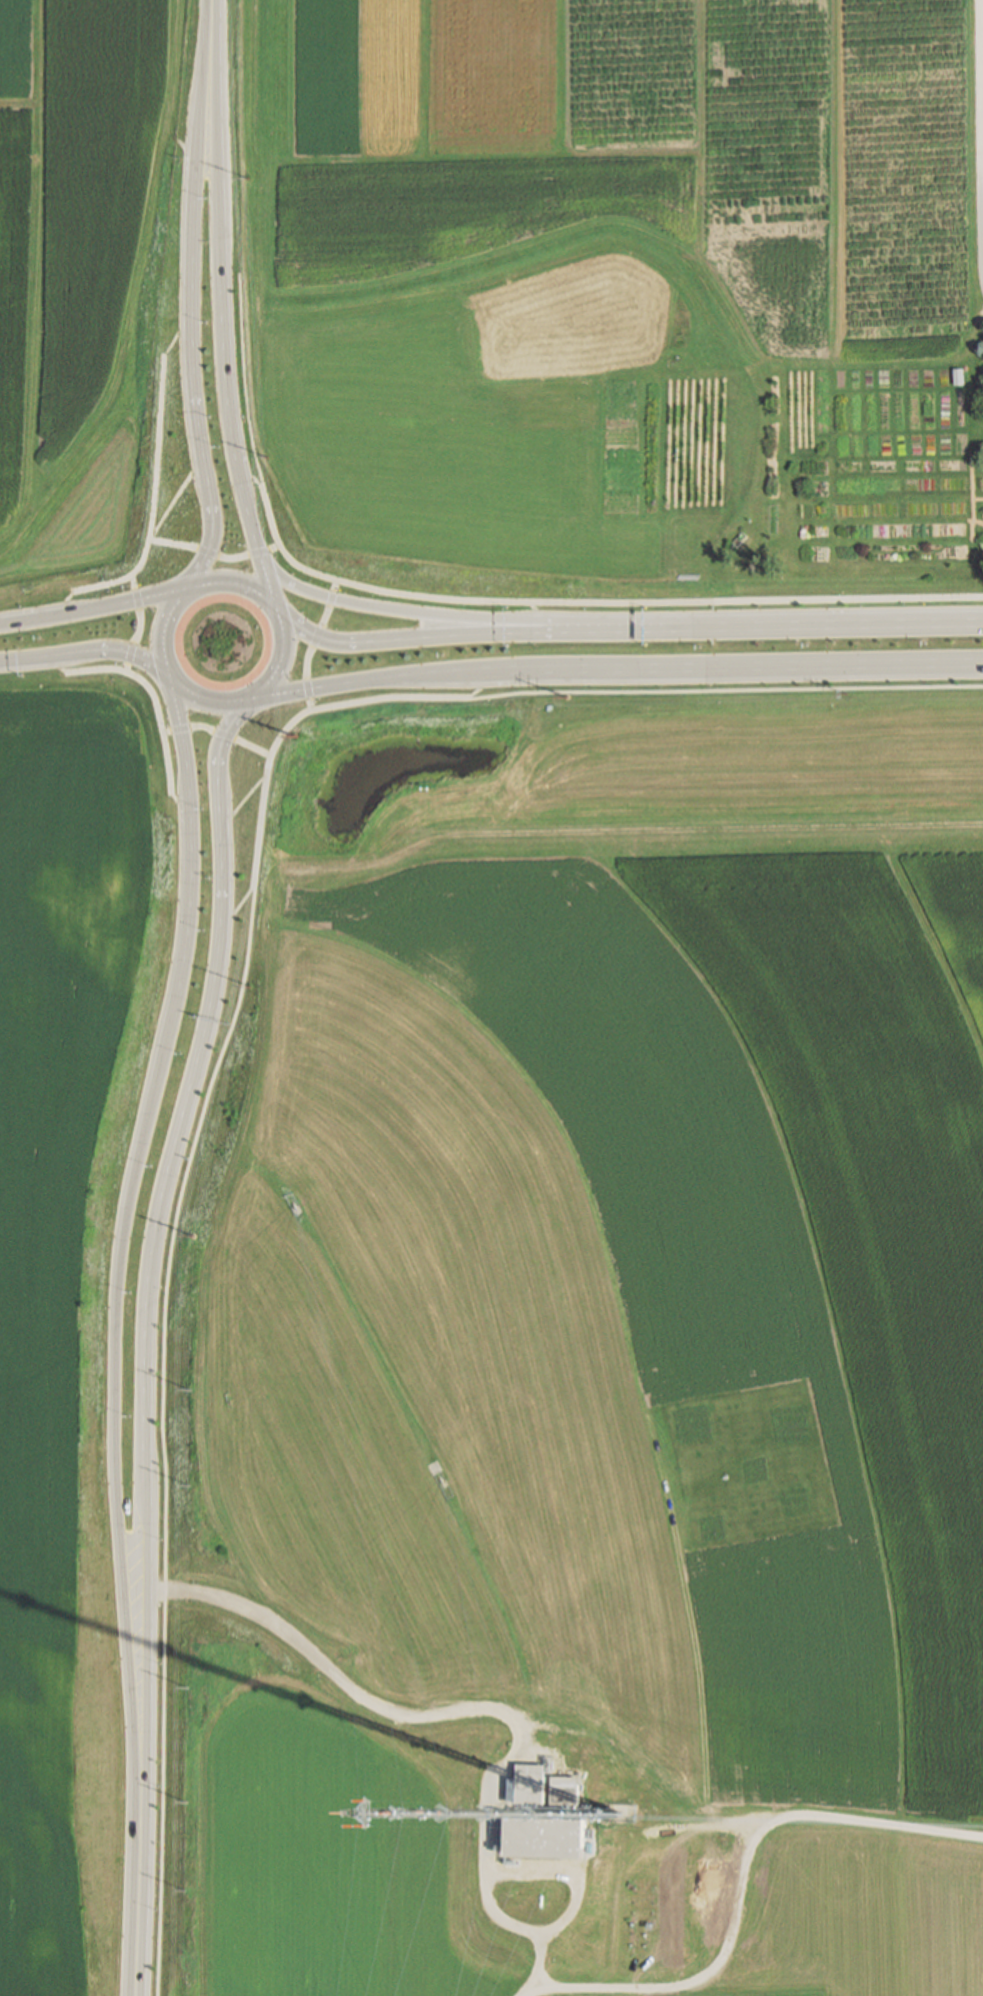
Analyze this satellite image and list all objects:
road: (204, 79)
road: (219, 121)
road: (981, 121)
power tower: (248, 177)
road: (191, 239)
crop: (84, 277)
crop: (621, 295)
road: (179, 338)
road: (224, 356)
road: (245, 382)
power tower: (267, 456)
road: (202, 459)
road: (251, 479)
road: (176, 501)
road: (154, 511)
road: (255, 540)
road: (215, 555)
road: (331, 593)
road: (846, 596)
road: (458, 600)
road: (94, 609)
road: (398, 610)
road: (533, 611)
road: (323, 615)
road: (574, 622)
road: (796, 623)
road: (142, 625)
road: (316, 636)
road: (439, 637)
street lamp: (503, 645)
road: (284, 652)
road: (83, 655)
road: (305, 661)
road: (695, 670)
road: (480, 684)
road: (329, 686)
road: (726, 690)
power tower: (844, 693)
road: (308, 694)
power tower: (566, 697)
road: (155, 698)
road: (296, 721)
road: (219, 732)
power tower: (298, 739)
road: (184, 747)
road: (218, 758)
road: (245, 802)
road: (718, 829)
road: (237, 907)
power tower: (247, 986)
power tower: (191, 1237)
crop: (68, 1275)
road: (114, 1297)
road: (144, 1305)
crop: (581, 1355)
power tower: (188, 1390)
road: (160, 1436)
power tower: (189, 1487)
power tower: (188, 1687)
road: (471, 1709)
building: (530, 1784)
building: (565, 1791)
power tower: (187, 1803)
building: (546, 1839)
road: (744, 1885)
road: (138, 1893)
power tower: (186, 1893)

